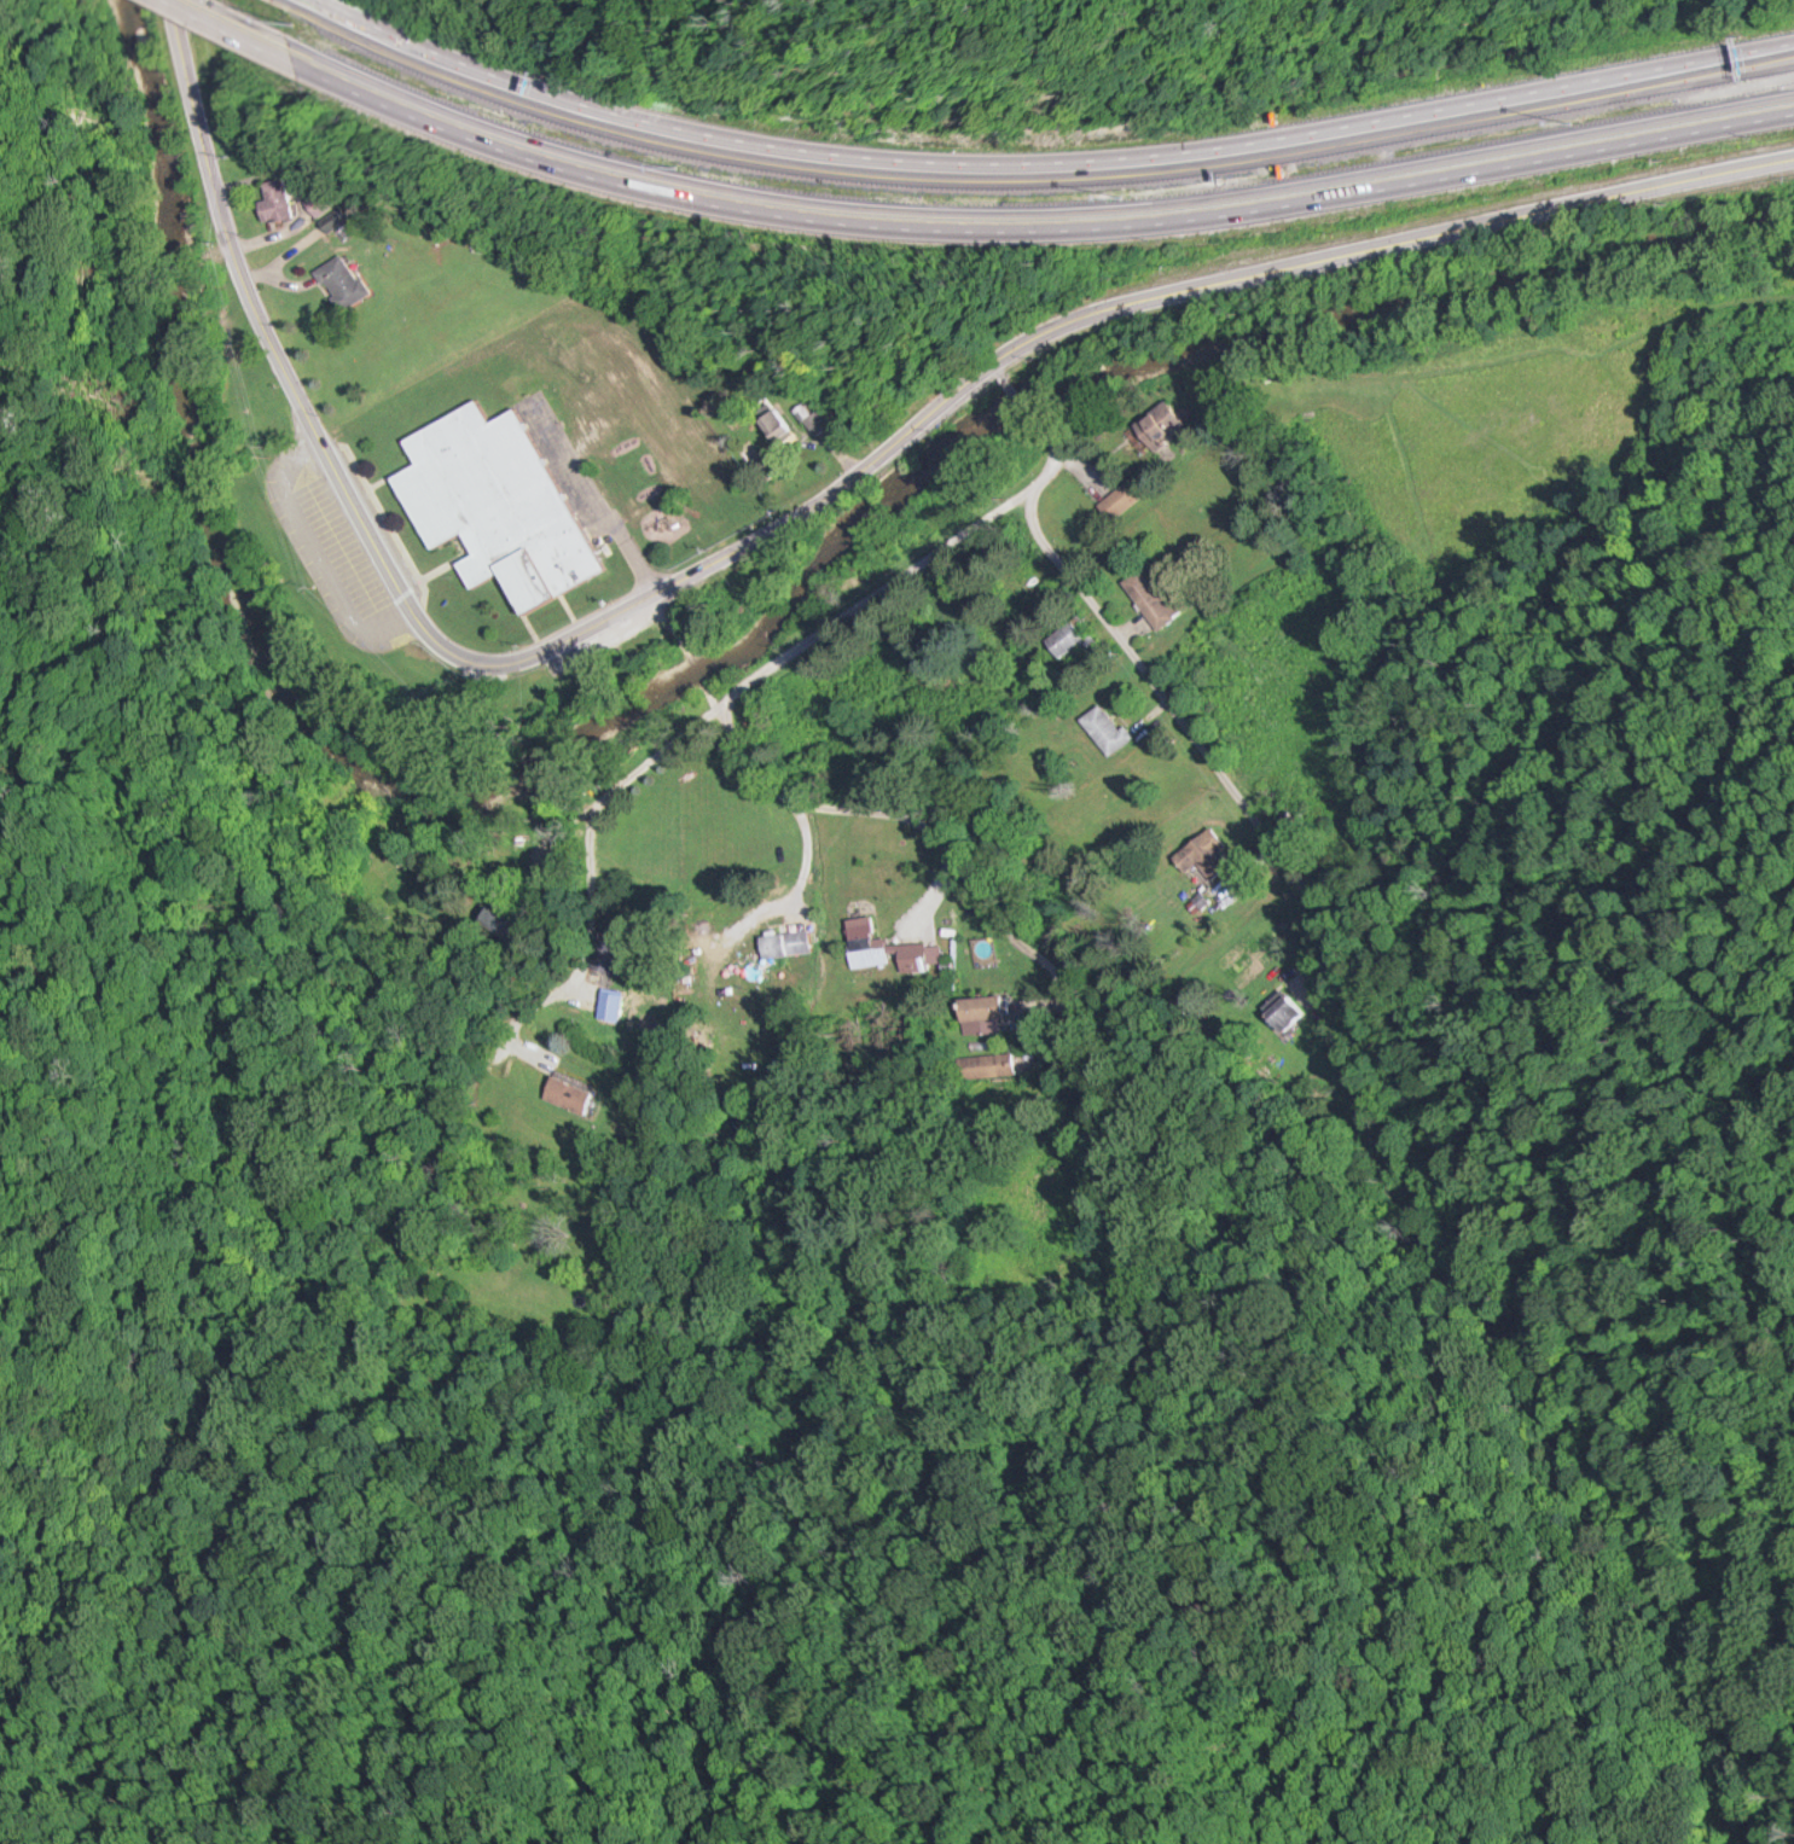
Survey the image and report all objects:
road: (243, 29)
road: (1045, 168)
building: (277, 199)
building: (320, 200)
building: (335, 219)
road: (1039, 232)
building: (343, 280)
road: (1015, 391)
building: (774, 424)
building: (1148, 430)
building: (1121, 500)
building: (497, 504)
road: (786, 508)
building: (1151, 598)
building: (1067, 639)
road: (1143, 663)
road: (747, 683)
building: (1108, 729)
road: (889, 813)
building: (1203, 855)
building: (505, 926)
building: (788, 942)
building: (884, 947)
building: (612, 953)
building: (1285, 1011)
building: (983, 1013)
building: (1328, 1031)
building: (988, 1065)
building: (570, 1093)

